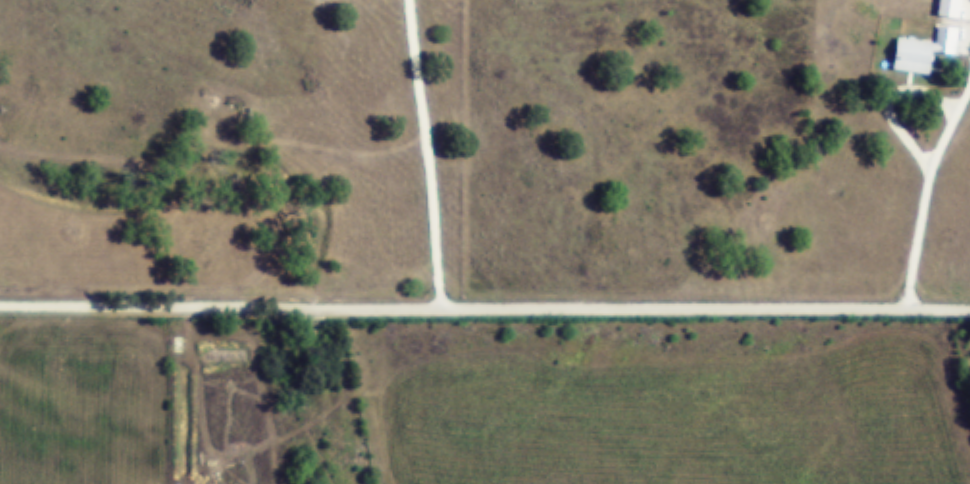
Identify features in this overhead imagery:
building: (952, 8)
building: (925, 52)
road: (484, 304)
road: (172, 394)

